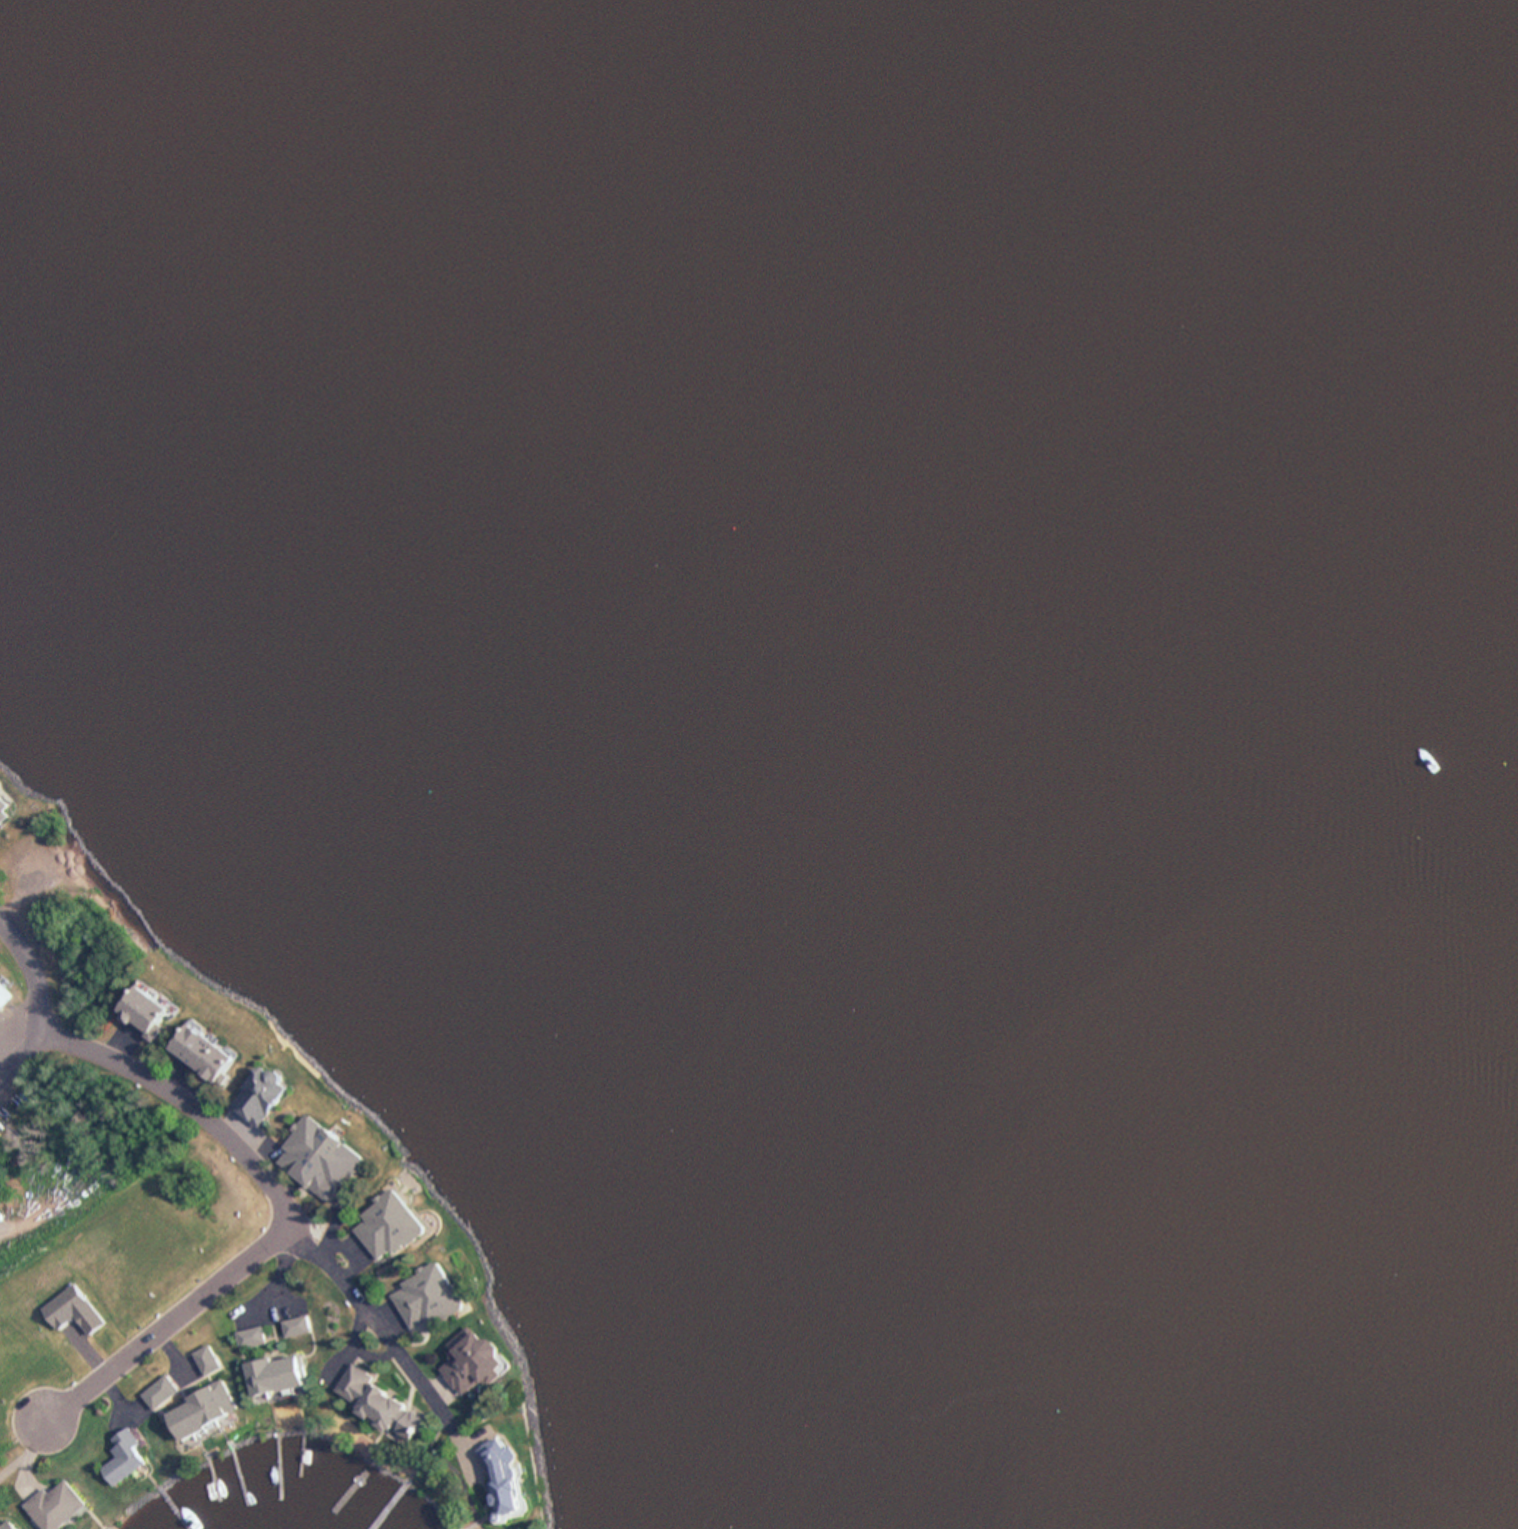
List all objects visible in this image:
road: (35, 971)
building: (1, 998)
building: (129, 1003)
building: (146, 1019)
park: (47, 1024)
parking lot: (11, 1030)
building: (181, 1040)
road: (123, 1042)
building: (196, 1052)
road: (20, 1060)
building: (212, 1064)
road: (164, 1068)
road: (180, 1079)
road: (196, 1092)
building: (257, 1094)
road: (239, 1129)
building: (299, 1139)
building: (314, 1156)
road: (267, 1157)
building: (334, 1169)
road: (291, 1190)
building: (379, 1214)
road: (293, 1216)
road: (336, 1229)
building: (394, 1233)
road: (340, 1247)
road: (357, 1265)
road: (285, 1268)
building: (420, 1285)
building: (431, 1307)
road: (270, 1310)
road: (384, 1322)
building: (303, 1325)
building: (290, 1328)
building: (259, 1335)
building: (246, 1338)
road: (362, 1348)
road: (175, 1352)
building: (205, 1354)
building: (467, 1359)
road: (345, 1360)
building: (210, 1365)
building: (290, 1371)
road: (185, 1373)
building: (263, 1374)
building: (276, 1374)
building: (250, 1376)
building: (165, 1386)
road: (441, 1392)
building: (153, 1396)
building: (219, 1397)
road: (124, 1401)
building: (375, 1402)
building: (201, 1406)
road: (121, 1413)
building: (190, 1416)
building: (176, 1424)
road: (475, 1437)
road: (24, 1453)
road: (425, 1453)
road: (468, 1454)
building: (122, 1456)
road: (29, 1459)
building: (493, 1478)
building: (47, 1504)
pier: (391, 1509)
building: (1, 1526)

